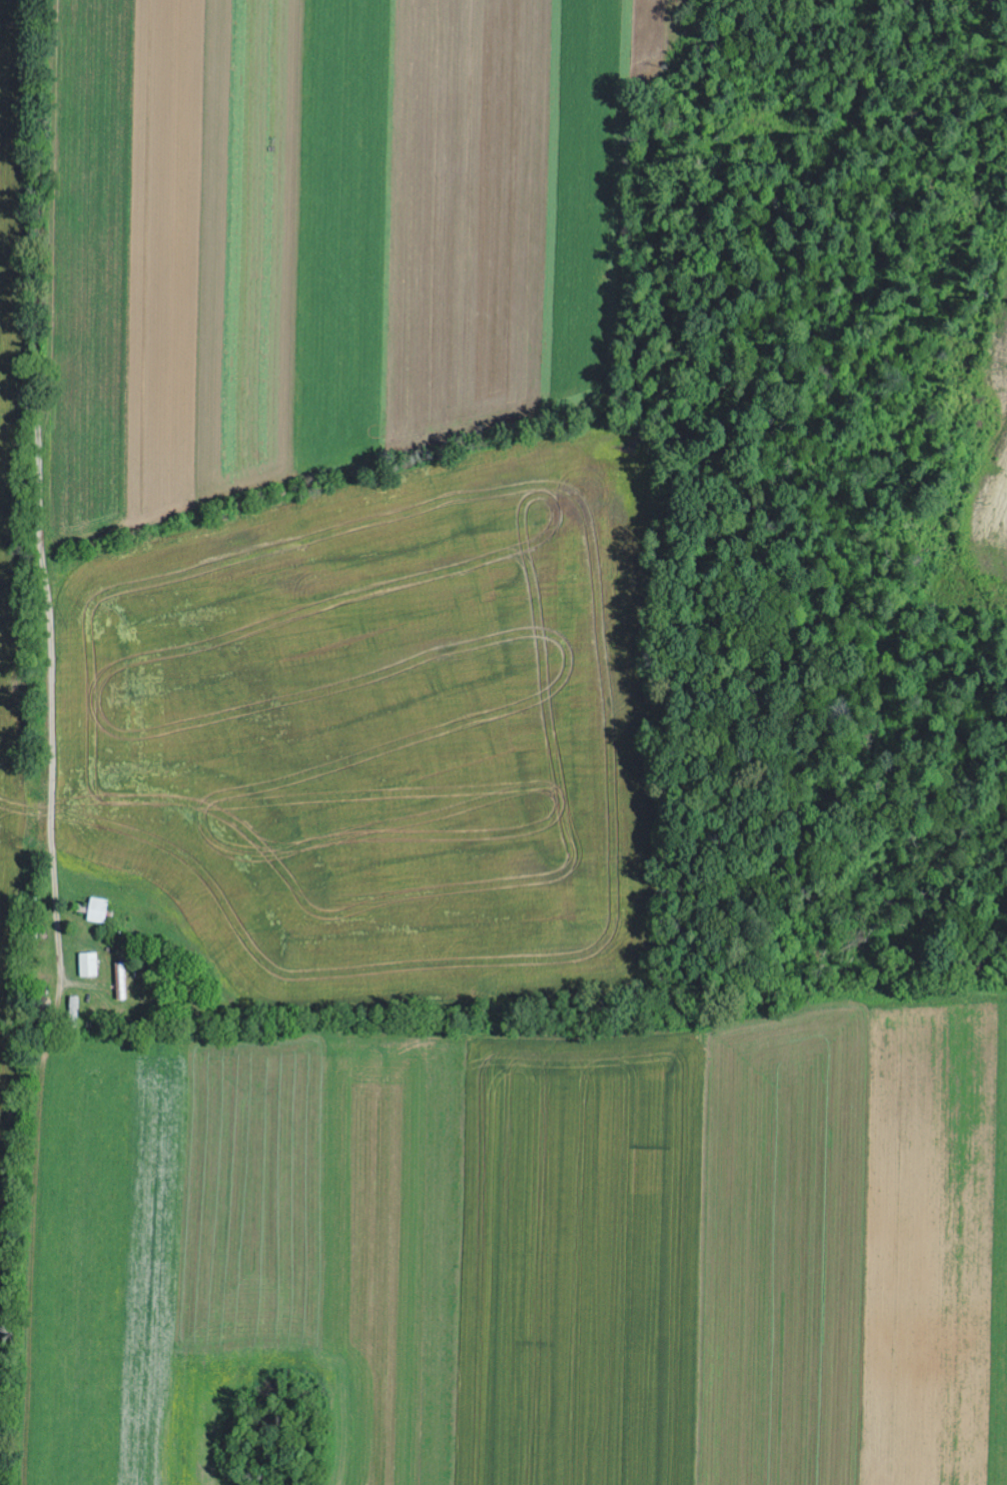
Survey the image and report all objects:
building: (97, 911)
building: (88, 965)

